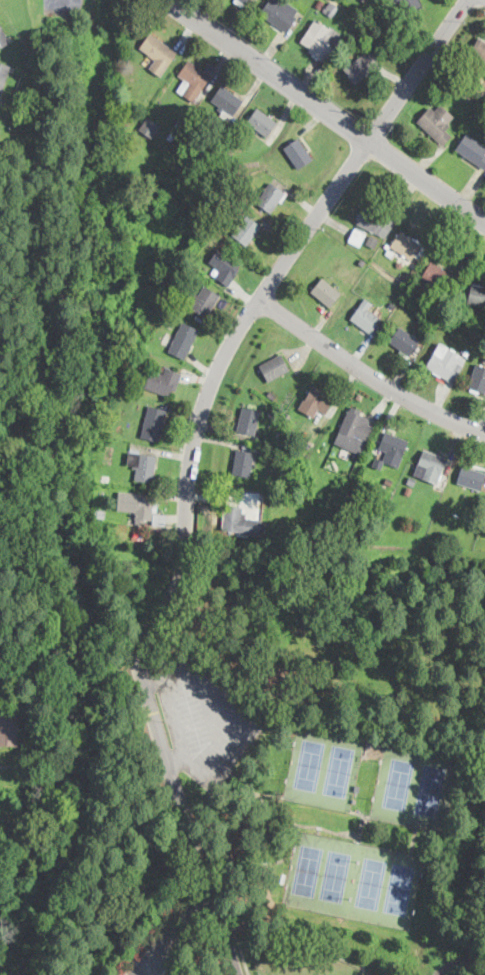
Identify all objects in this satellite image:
building: (364, 0)
building: (241, 2)
road: (474, 2)
building: (320, 4)
building: (409, 5)
road: (481, 7)
building: (330, 9)
building: (280, 13)
building: (338, 24)
building: (3, 38)
building: (322, 40)
building: (479, 50)
building: (158, 53)
building: (472, 64)
building: (362, 66)
building: (3, 76)
building: (469, 78)
building: (192, 80)
building: (228, 102)
road: (325, 109)
building: (128, 116)
building: (262, 122)
building: (437, 122)
building: (179, 125)
building: (150, 127)
building: (172, 135)
building: (473, 150)
building: (231, 151)
building: (298, 153)
building: (171, 160)
building: (234, 198)
building: (271, 198)
building: (377, 220)
building: (246, 230)
building: (214, 236)
building: (357, 236)
building: (371, 242)
building: (386, 246)
building: (408, 246)
road: (295, 251)
building: (390, 254)
building: (361, 261)
building: (225, 266)
building: (437, 275)
building: (200, 278)
building: (140, 287)
building: (326, 292)
building: (477, 295)
building: (205, 302)
building: (391, 305)
building: (456, 306)
building: (387, 310)
building: (366, 316)
building: (170, 324)
building: (428, 329)
building: (183, 340)
building: (404, 341)
building: (466, 352)
building: (445, 363)
building: (275, 368)
building: (163, 369)
road: (370, 374)
building: (478, 379)
building: (164, 382)
building: (271, 384)
building: (271, 394)
building: (317, 401)
building: (248, 421)
building: (154, 423)
building: (354, 431)
building: (307, 444)
building: (393, 447)
building: (136, 448)
building: (243, 463)
building: (143, 466)
building: (431, 466)
building: (105, 478)
building: (471, 478)
building: (412, 481)
building: (389, 482)
building: (408, 489)
building: (100, 492)
building: (138, 505)
building: (99, 513)
building: (159, 518)
building: (238, 521)
building: (293, 692)
building: (9, 723)
road: (164, 758)
park: (271, 763)
park: (307, 763)
park: (339, 769)
park: (394, 781)
park: (431, 789)
park: (307, 869)
building: (101, 870)
park: (337, 875)
park: (368, 882)
park: (400, 888)
road: (226, 927)
park: (309, 965)

